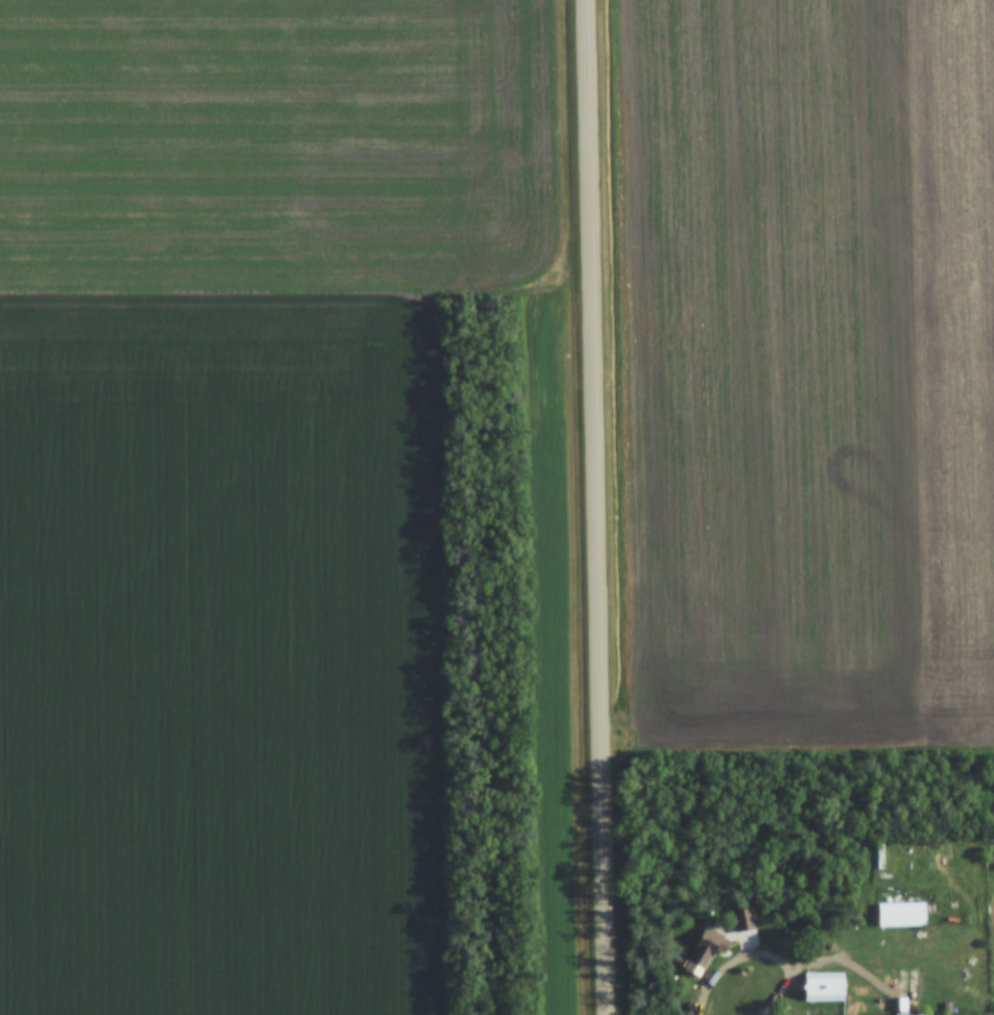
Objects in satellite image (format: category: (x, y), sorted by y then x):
road: (600, 507)
building: (902, 913)
building: (709, 942)
road: (770, 954)
building: (838, 980)

